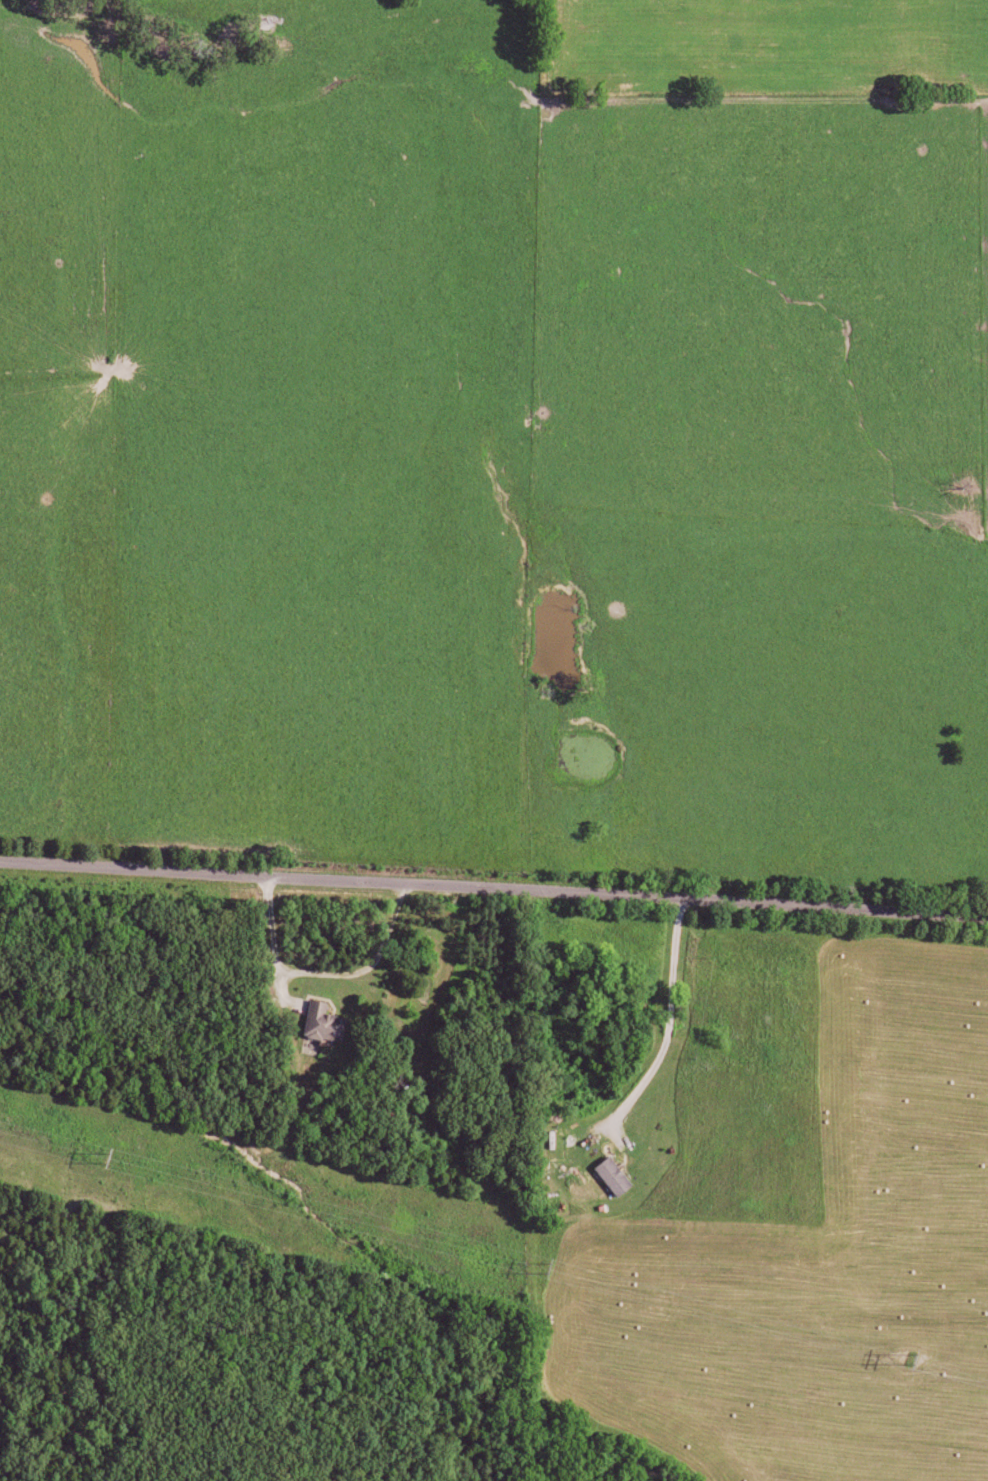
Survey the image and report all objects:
road: (493, 890)
road: (347, 974)
building: (329, 1022)
power tower: (108, 1162)
building: (619, 1176)
power tower: (547, 1271)
power tower: (913, 1361)

